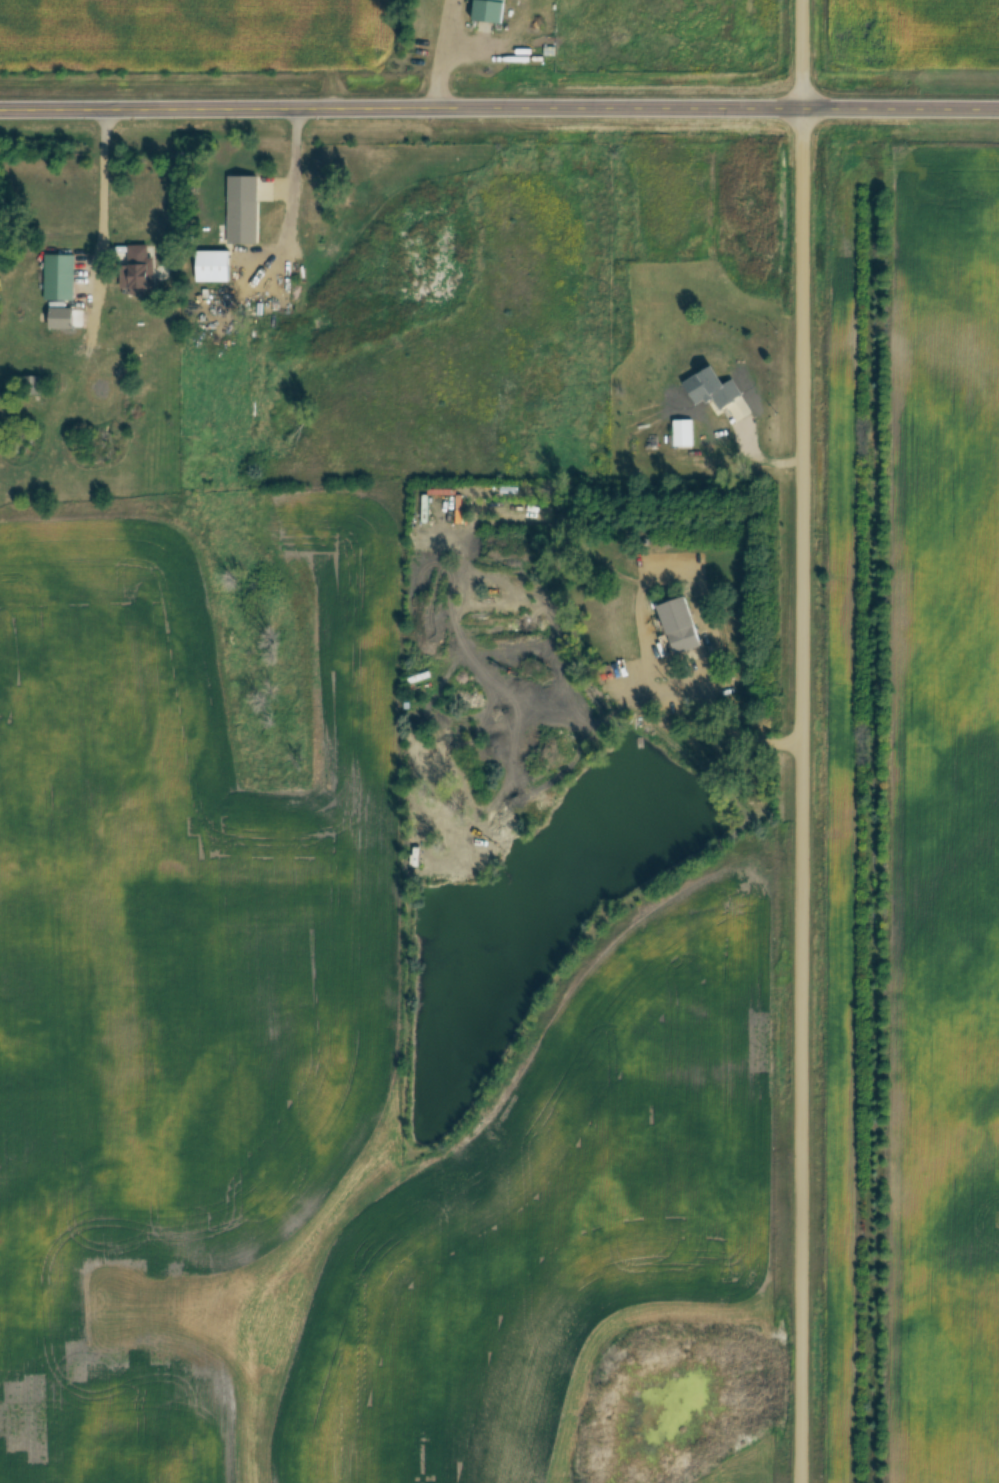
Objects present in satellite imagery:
building: (490, 11)
road: (440, 53)
road: (499, 108)
road: (296, 171)
road: (103, 200)
building: (272, 212)
building: (214, 267)
building: (142, 269)
building: (60, 278)
building: (683, 433)
building: (713, 439)
building: (21, 441)
building: (107, 447)
building: (683, 626)
road: (733, 719)
road: (805, 741)

